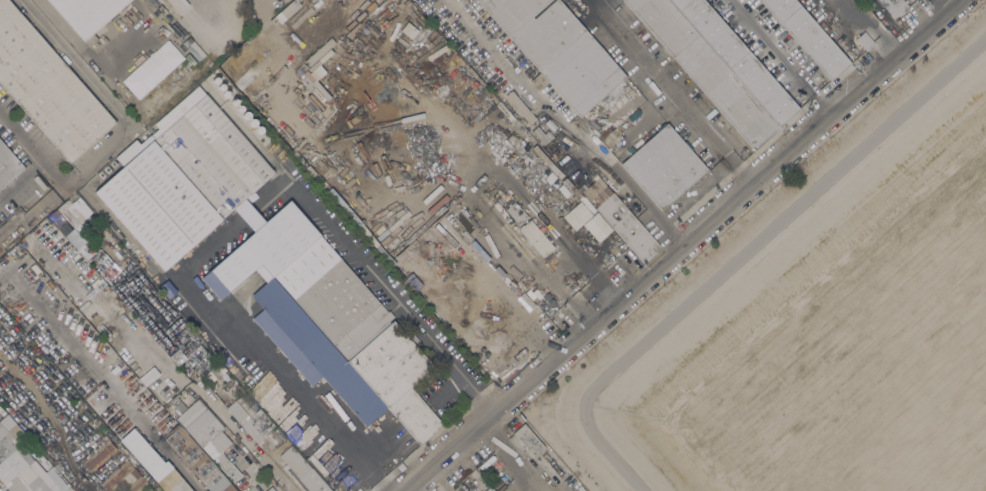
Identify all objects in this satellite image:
building: (896, 7)
building: (818, 11)
building: (86, 13)
building: (535, 26)
road: (861, 27)
building: (833, 28)
building: (809, 35)
building: (865, 40)
road: (780, 55)
road: (90, 58)
building: (736, 58)
building: (151, 68)
building: (705, 69)
building: (582, 73)
building: (538, 80)
building: (47, 86)
road: (667, 92)
building: (520, 106)
building: (522, 121)
road: (134, 123)
road: (563, 123)
building: (542, 134)
road: (33, 147)
building: (8, 165)
building: (663, 165)
road: (23, 181)
building: (512, 208)
building: (575, 215)
road: (250, 218)
building: (620, 218)
building: (168, 222)
building: (536, 237)
road: (680, 243)
road: (742, 253)
road: (588, 266)
road: (375, 277)
building: (138, 278)
railway: (81, 306)
building: (191, 343)
building: (317, 350)
road: (252, 354)
building: (202, 360)
building: (148, 375)
building: (397, 378)
building: (253, 423)
building: (161, 424)
road: (392, 433)
building: (206, 434)
road: (242, 439)
building: (528, 439)
building: (99, 455)
road: (507, 456)
building: (197, 460)
building: (23, 463)
building: (153, 463)
building: (302, 471)
building: (125, 478)
road: (83, 480)
building: (270, 488)
building: (489, 488)

